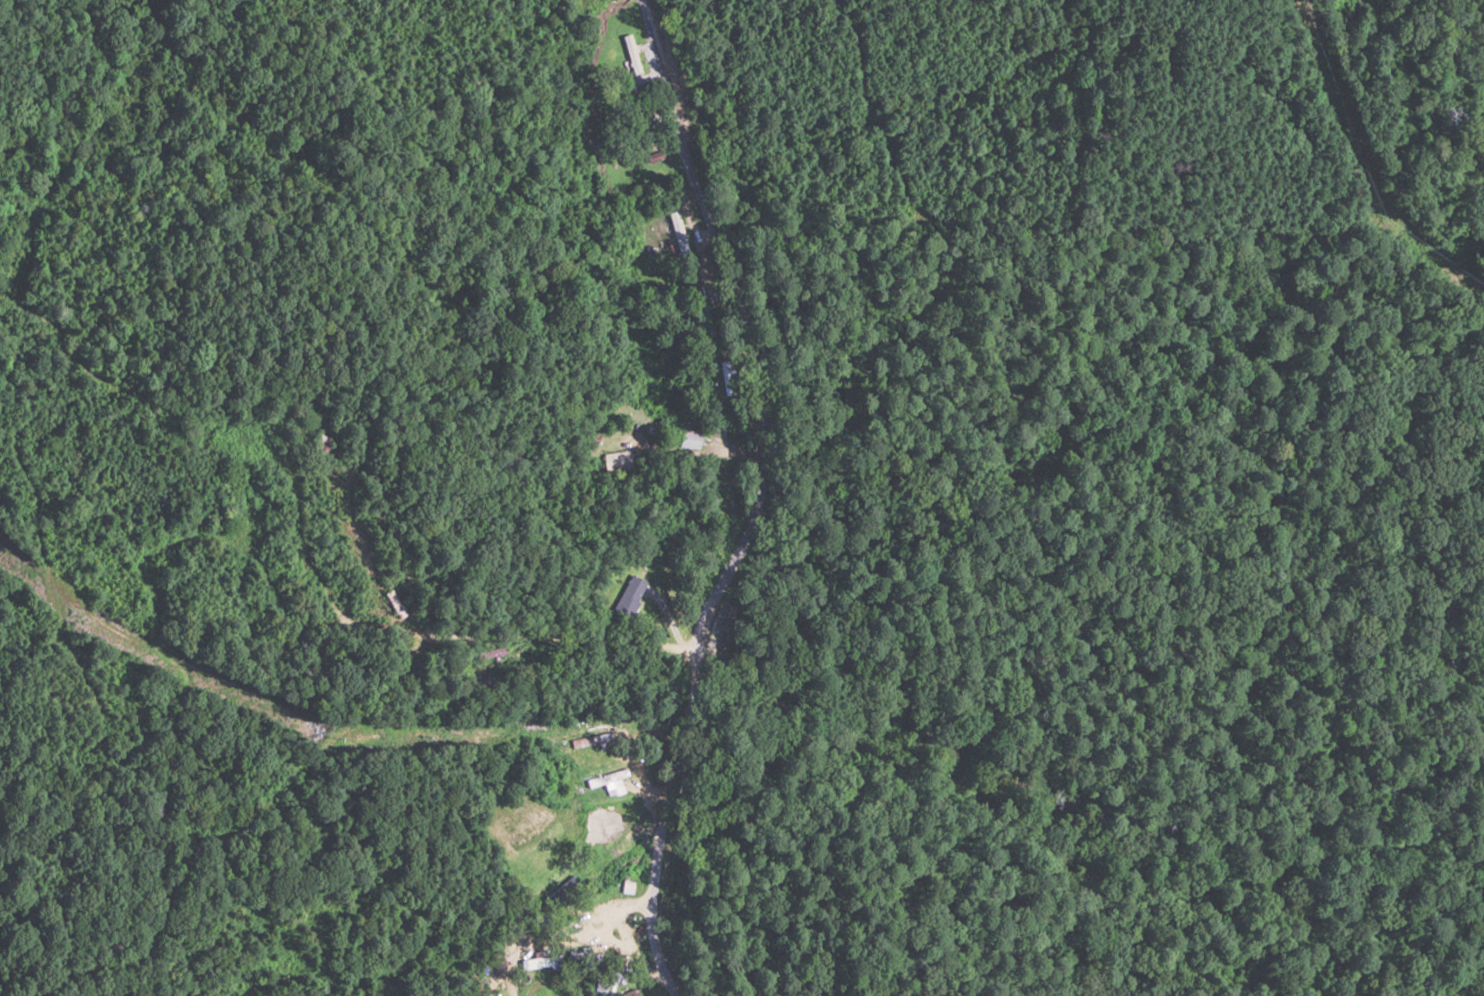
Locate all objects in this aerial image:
building: (631, 54)
building: (656, 157)
building: (679, 233)
road: (15, 346)
road: (365, 374)
building: (690, 436)
building: (321, 447)
building: (618, 461)
road: (708, 483)
building: (627, 596)
building: (491, 653)
building: (527, 718)
building: (366, 736)
building: (604, 776)
road: (43, 777)
building: (274, 783)
building: (599, 840)
building: (603, 988)
building: (631, 993)

